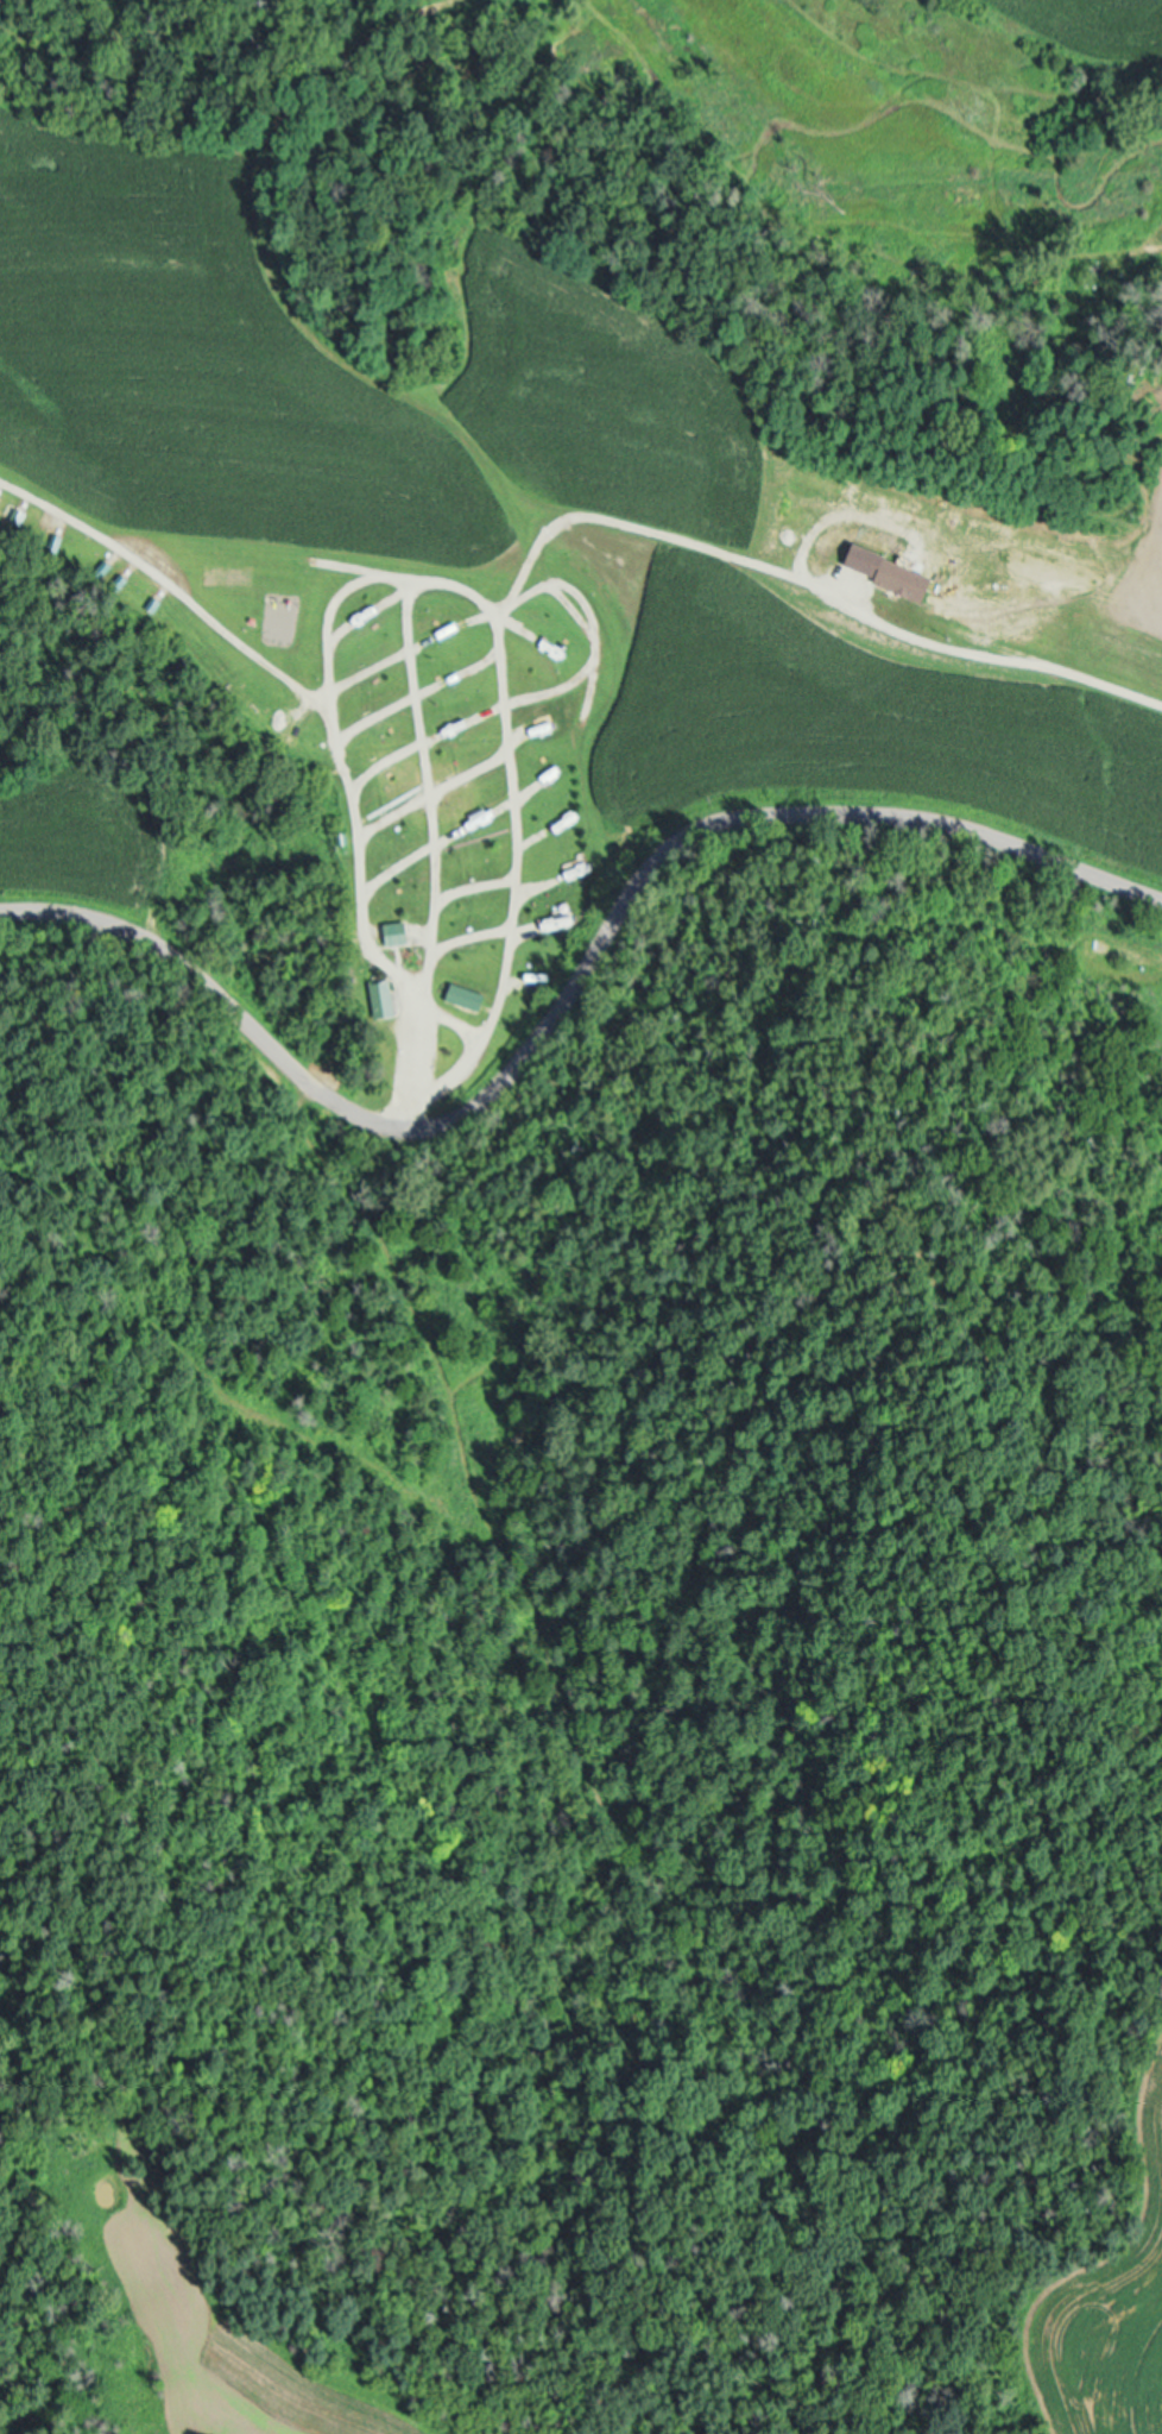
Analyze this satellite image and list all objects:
road: (171, 589)
road: (514, 803)
building: (1122, 951)
road: (566, 990)

